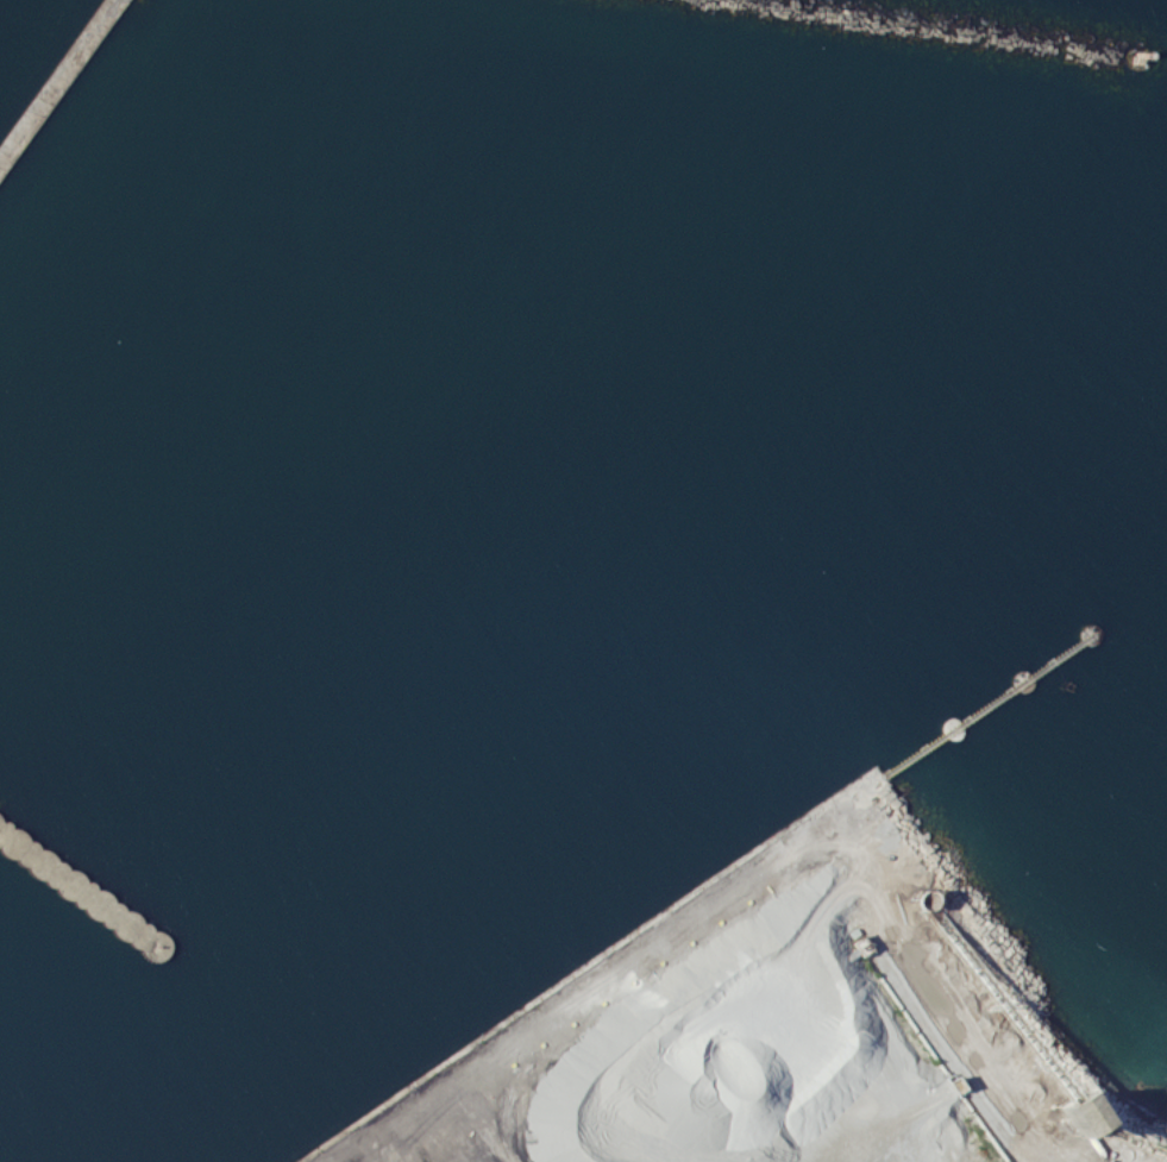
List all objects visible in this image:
pier: (58, 81)
pier: (989, 701)

